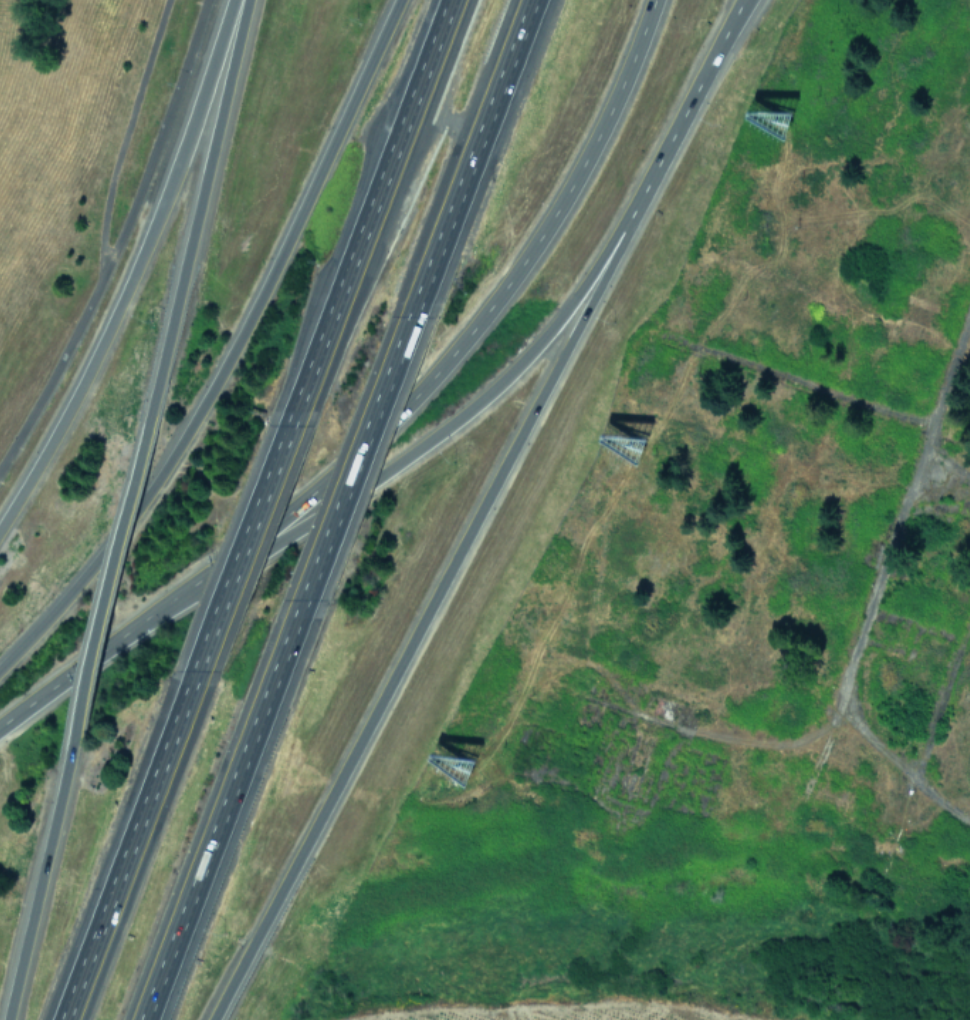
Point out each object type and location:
road: (698, 86)
road: (446, 119)
road: (125, 131)
road: (472, 157)
road: (381, 182)
road: (198, 211)
road: (118, 238)
road: (134, 268)
road: (230, 351)
road: (448, 355)
road: (430, 437)
road: (355, 467)
road: (255, 514)
road: (113, 583)
road: (433, 597)
road: (67, 672)
road: (217, 819)
road: (129, 841)
road: (38, 881)
crop: (579, 1012)

